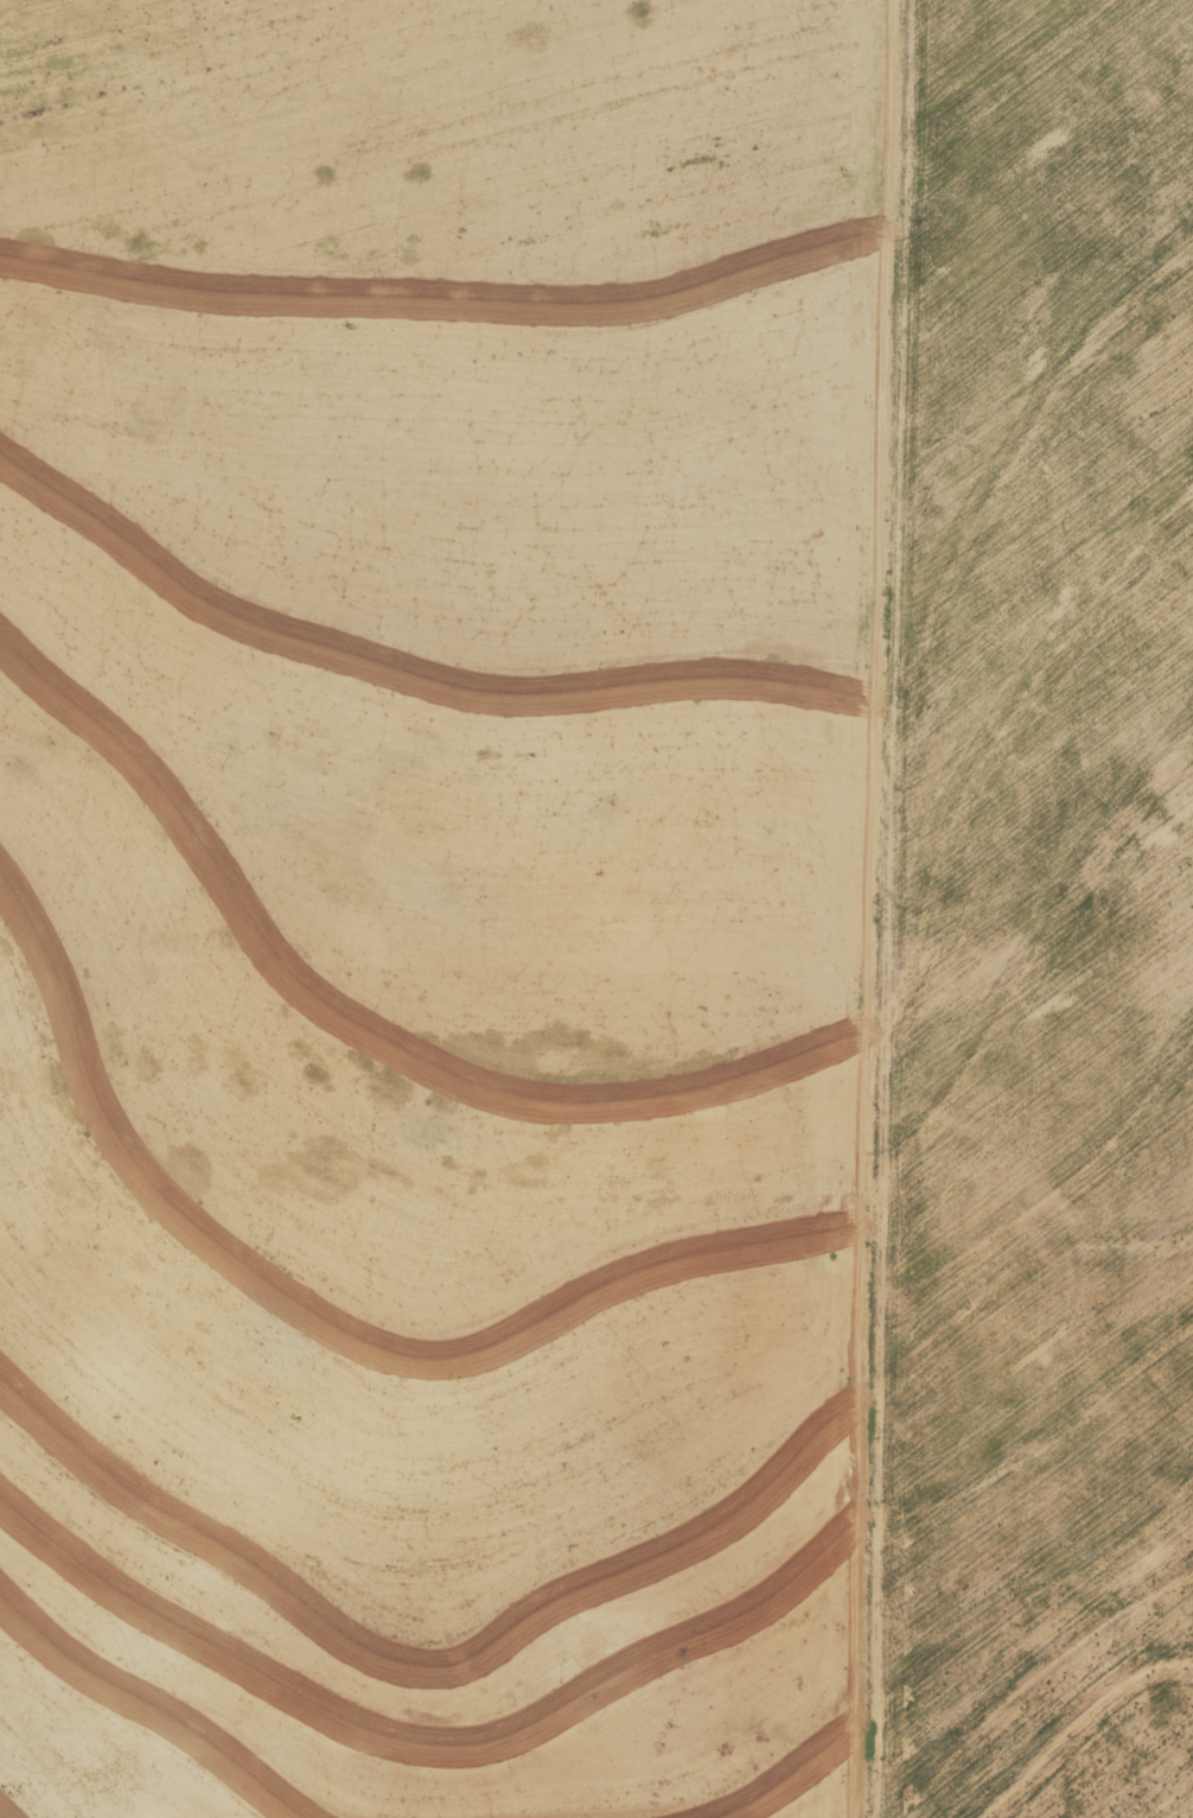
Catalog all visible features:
road: (1073, 1723)

